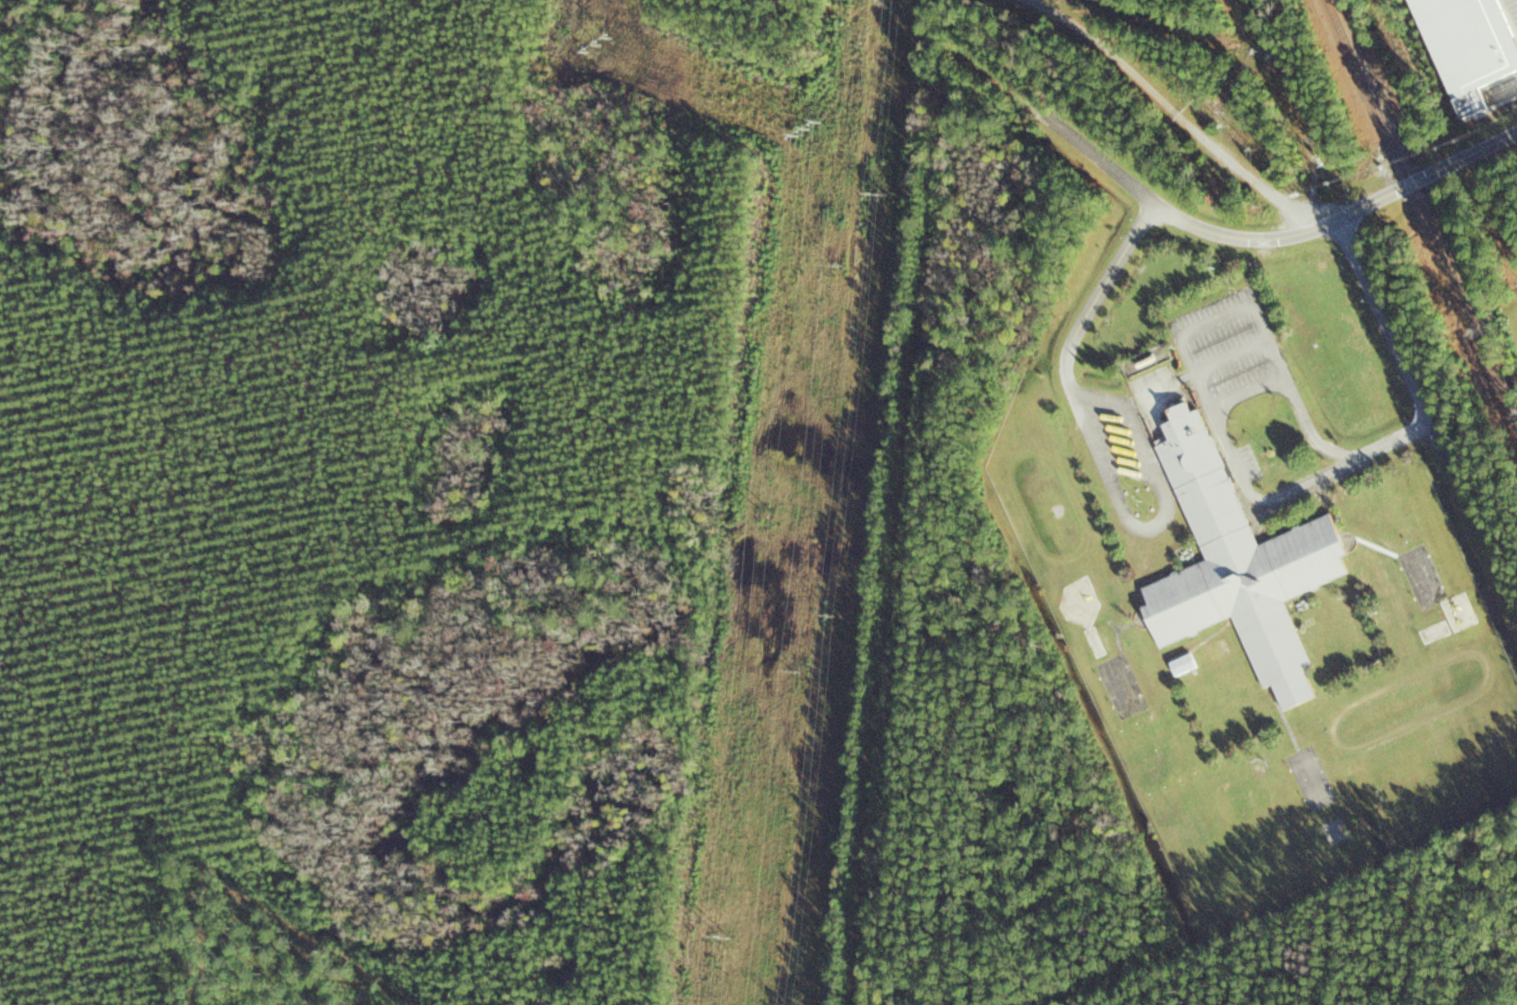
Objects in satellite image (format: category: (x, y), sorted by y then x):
power tower: (599, 45)
road: (1180, 115)
power tower: (809, 129)
power tower: (879, 192)
railway: (1423, 209)
road: (1274, 236)
power tower: (839, 265)
road: (1383, 322)
road: (1069, 349)
power tower: (769, 514)
building: (1237, 565)
power tower: (835, 614)
building: (1215, 651)
building: (1183, 665)
power tower: (797, 672)
power tower: (724, 934)

